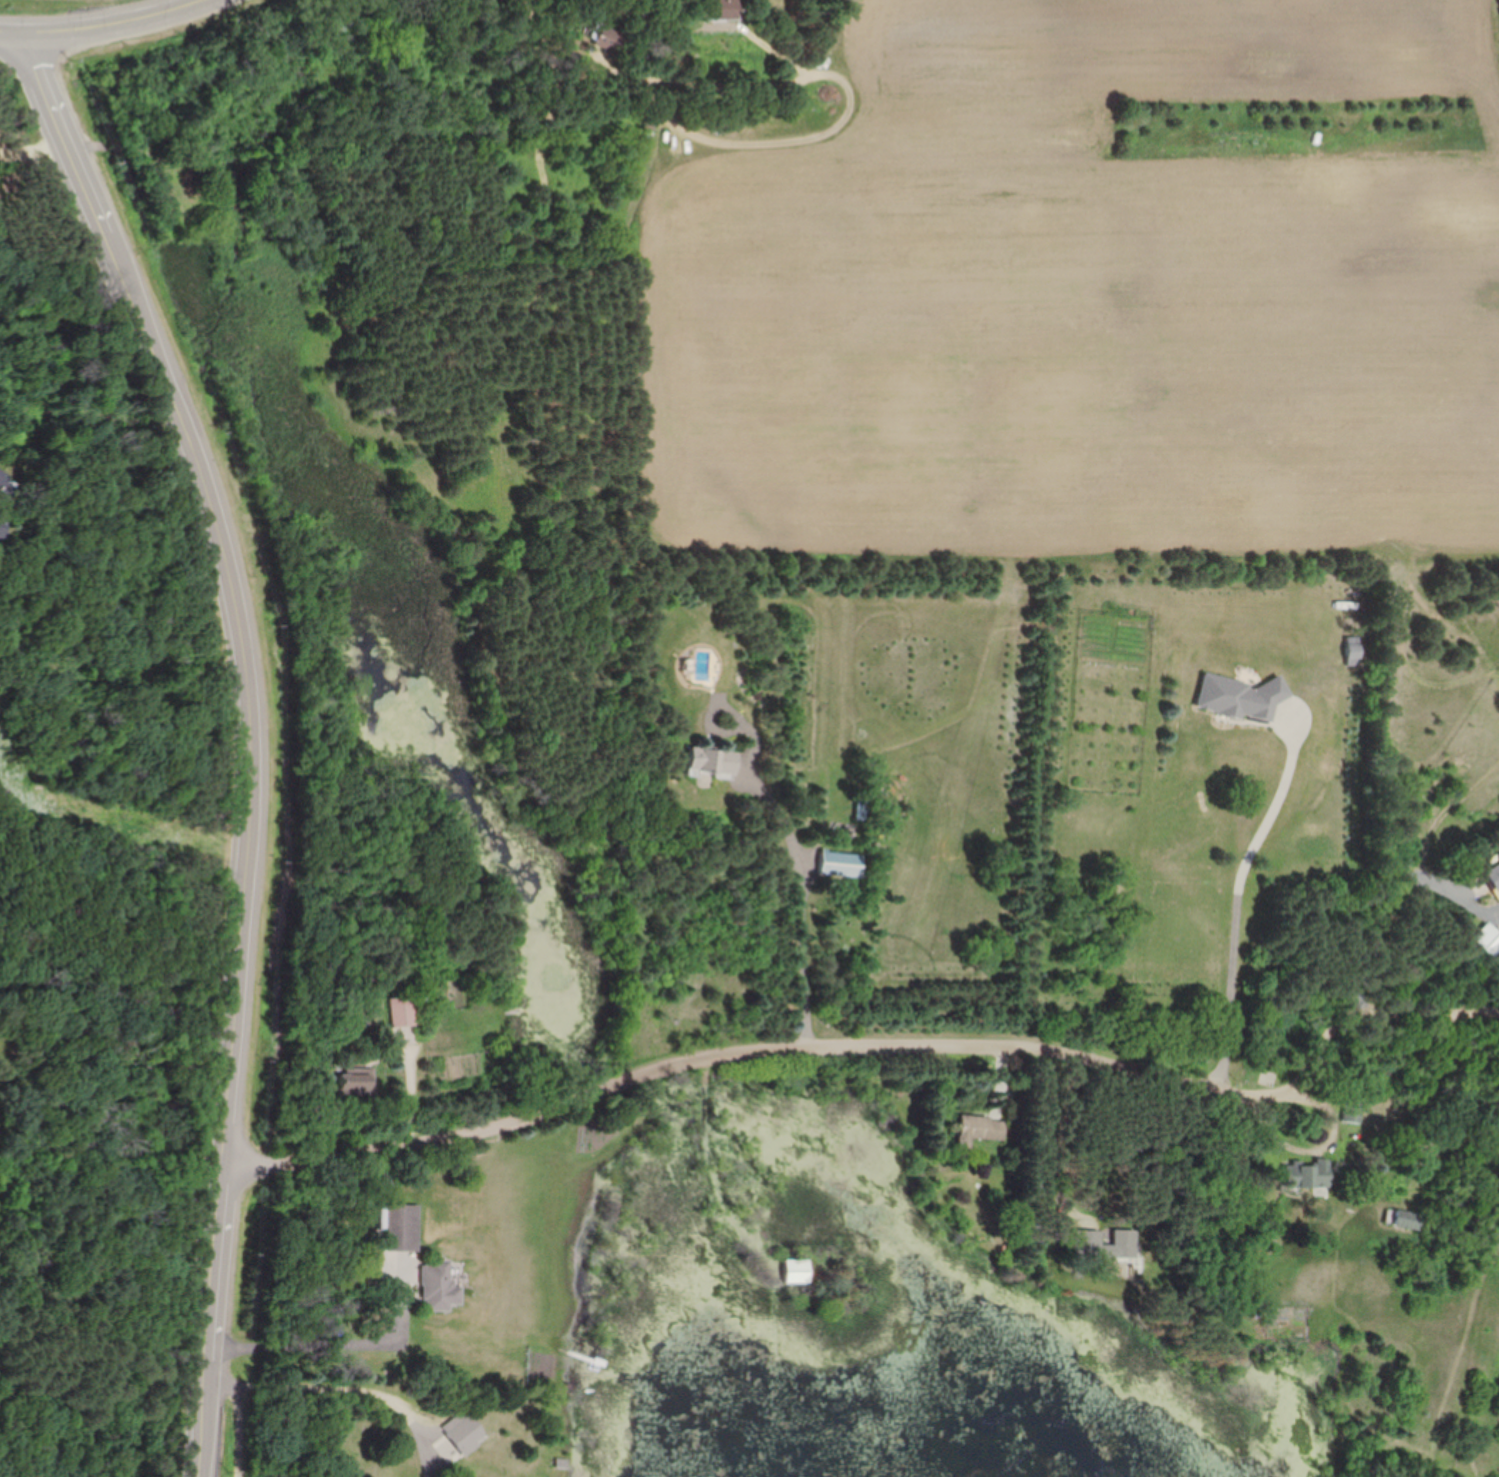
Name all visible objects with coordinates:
park: (46, 4)
building: (720, 9)
road: (102, 29)
building: (609, 38)
road: (760, 138)
building: (5, 487)
building: (2, 527)
building: (1352, 652)
building: (1238, 697)
road: (250, 736)
building: (711, 764)
building: (842, 864)
building: (1493, 872)
road: (1246, 901)
road: (805, 903)
road: (1498, 910)
building: (1488, 942)
building: (405, 1018)
road: (1353, 1022)
road: (725, 1058)
road: (413, 1085)
building: (1355, 1107)
building: (979, 1129)
road: (1279, 1135)
road: (1051, 1149)
building: (1308, 1175)
building: (1407, 1219)
building: (403, 1226)
building: (1086, 1237)
building: (794, 1269)
building: (438, 1286)
road: (337, 1347)
road: (326, 1390)
road: (243, 1432)
building: (468, 1432)

